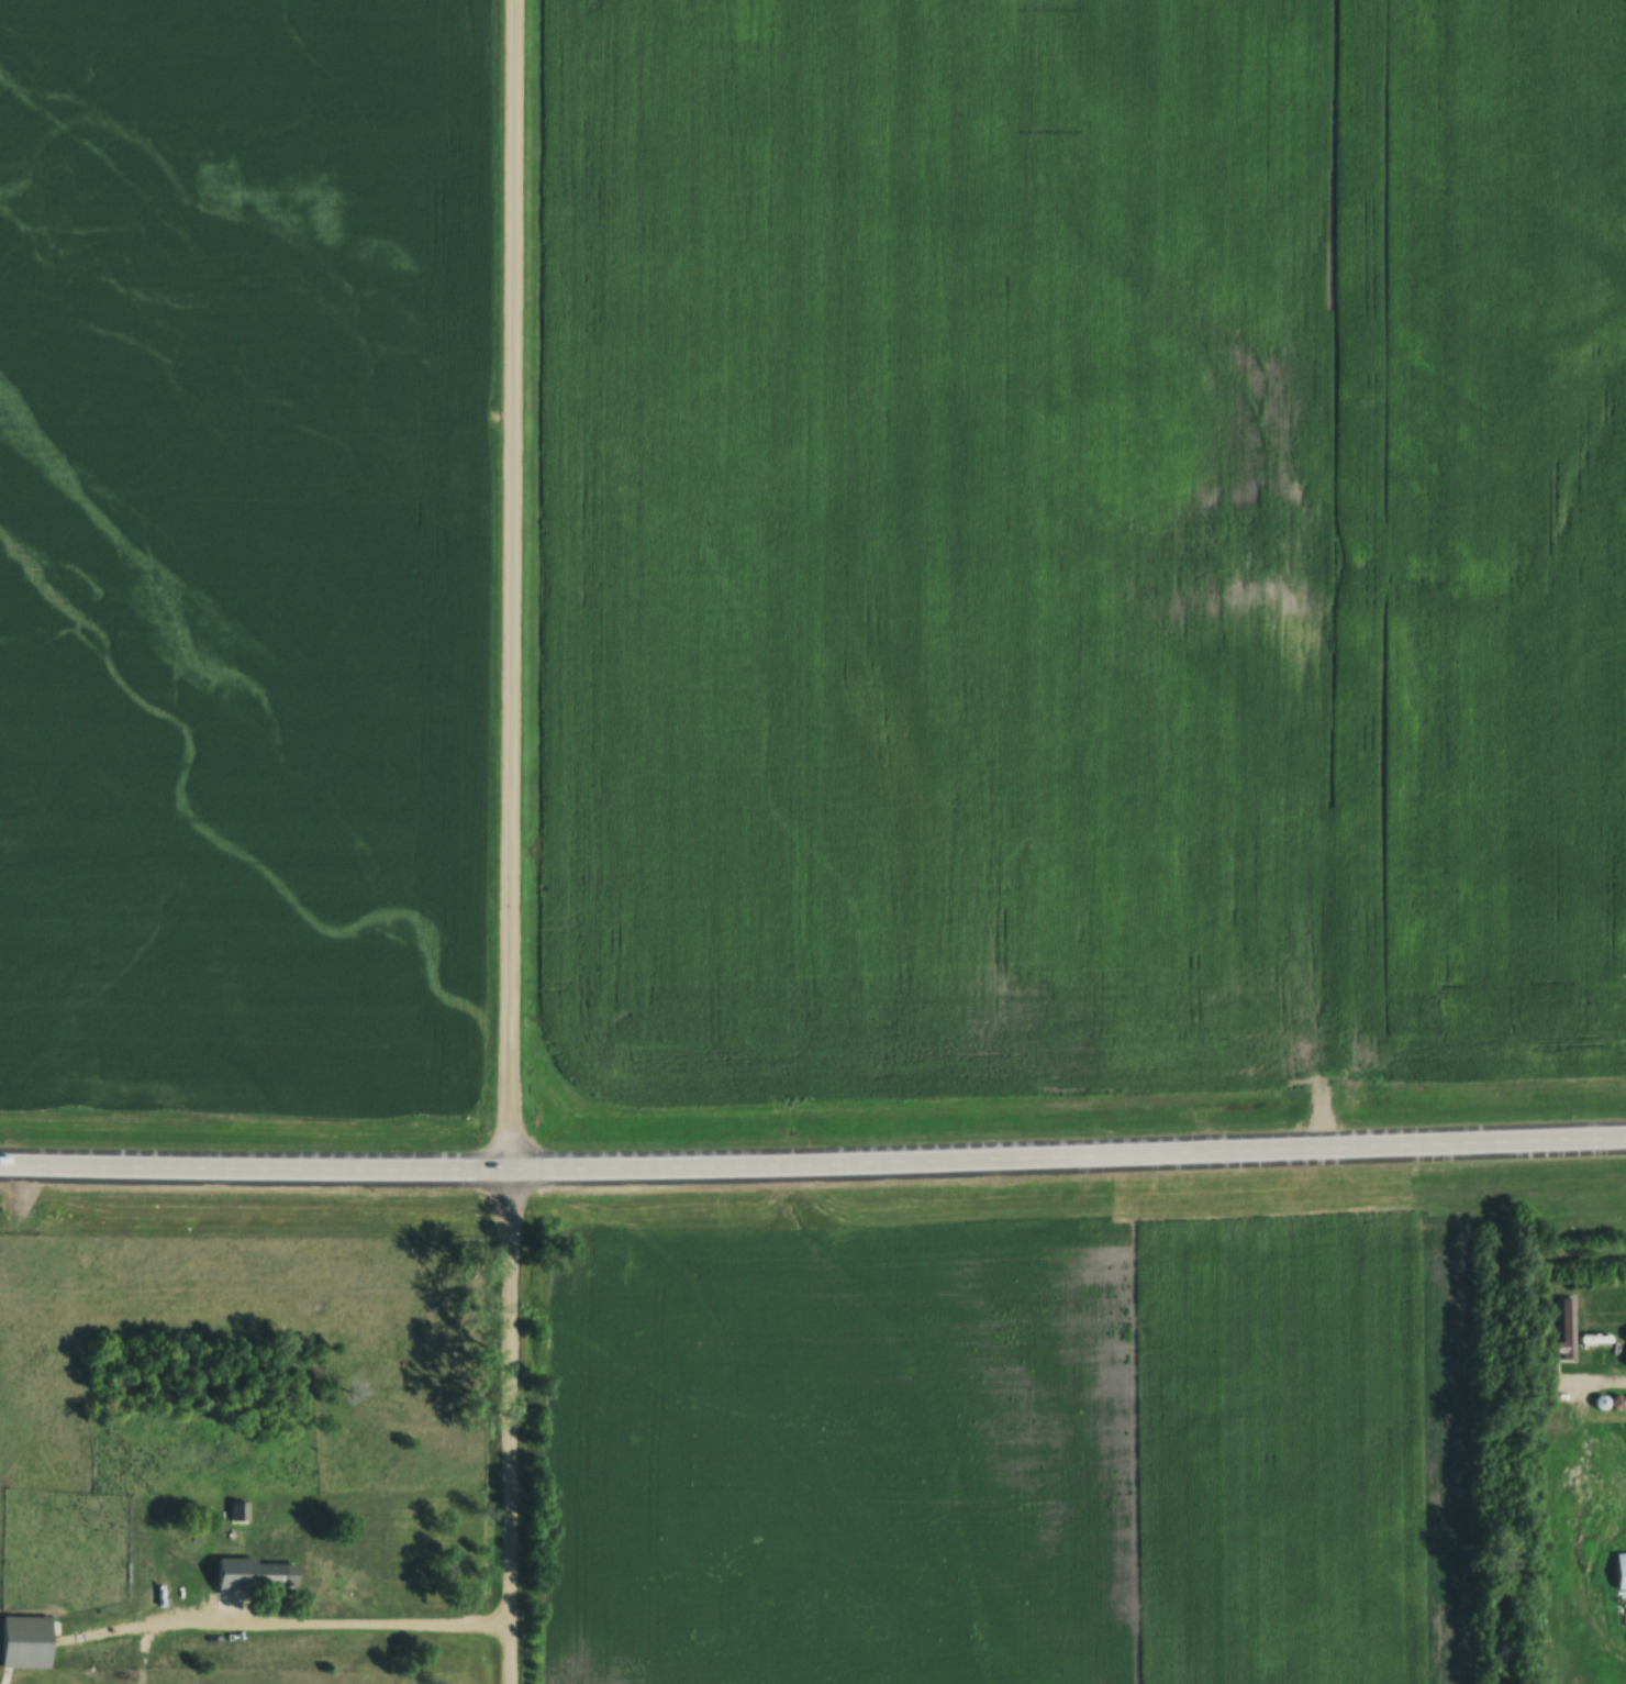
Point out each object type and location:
road: (516, 842)
road: (813, 1170)
building: (241, 1511)
building: (1622, 1571)
building: (260, 1574)
building: (29, 1641)

